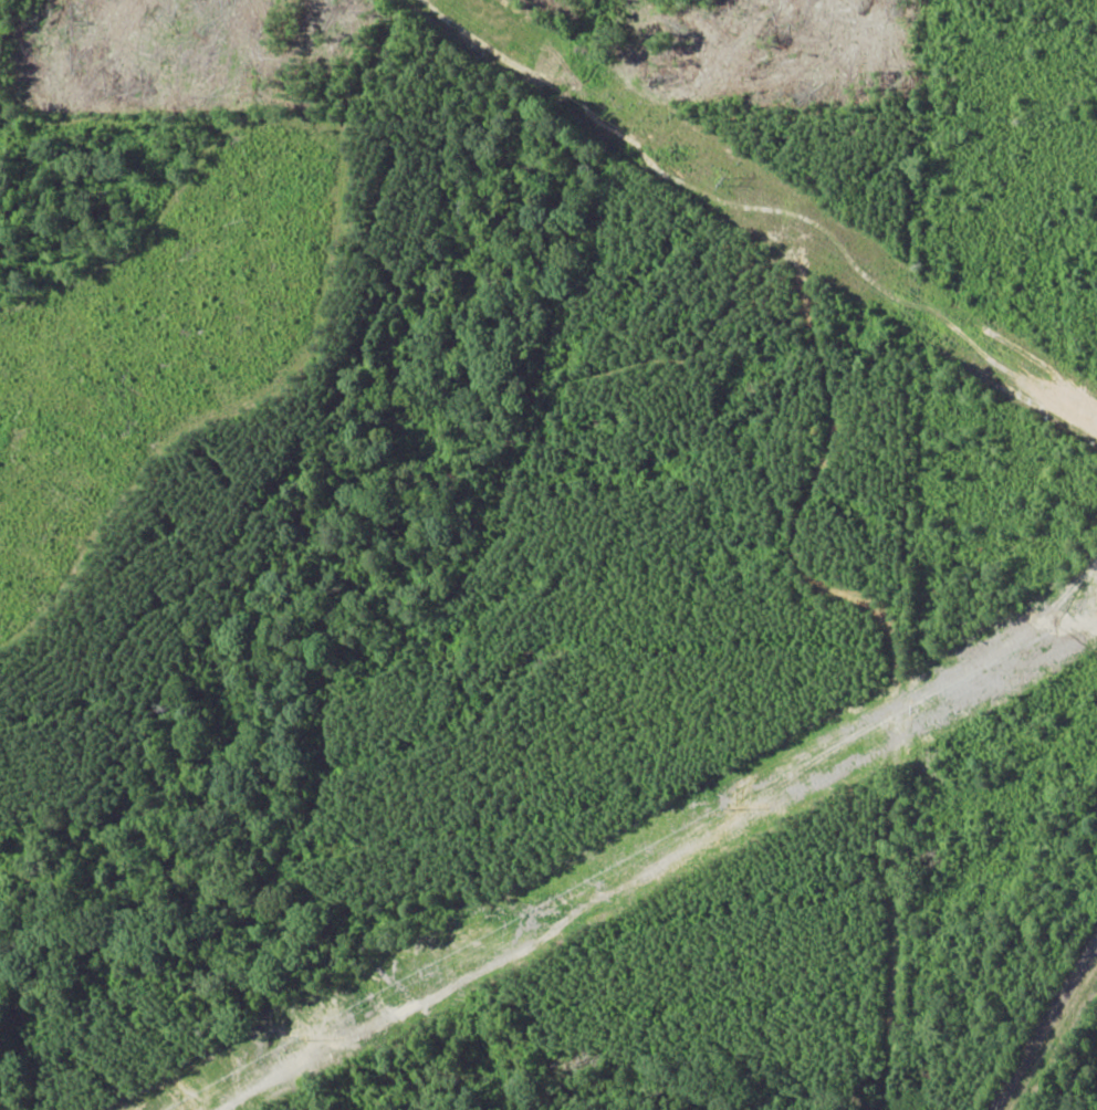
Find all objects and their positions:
road: (1059, 1047)

